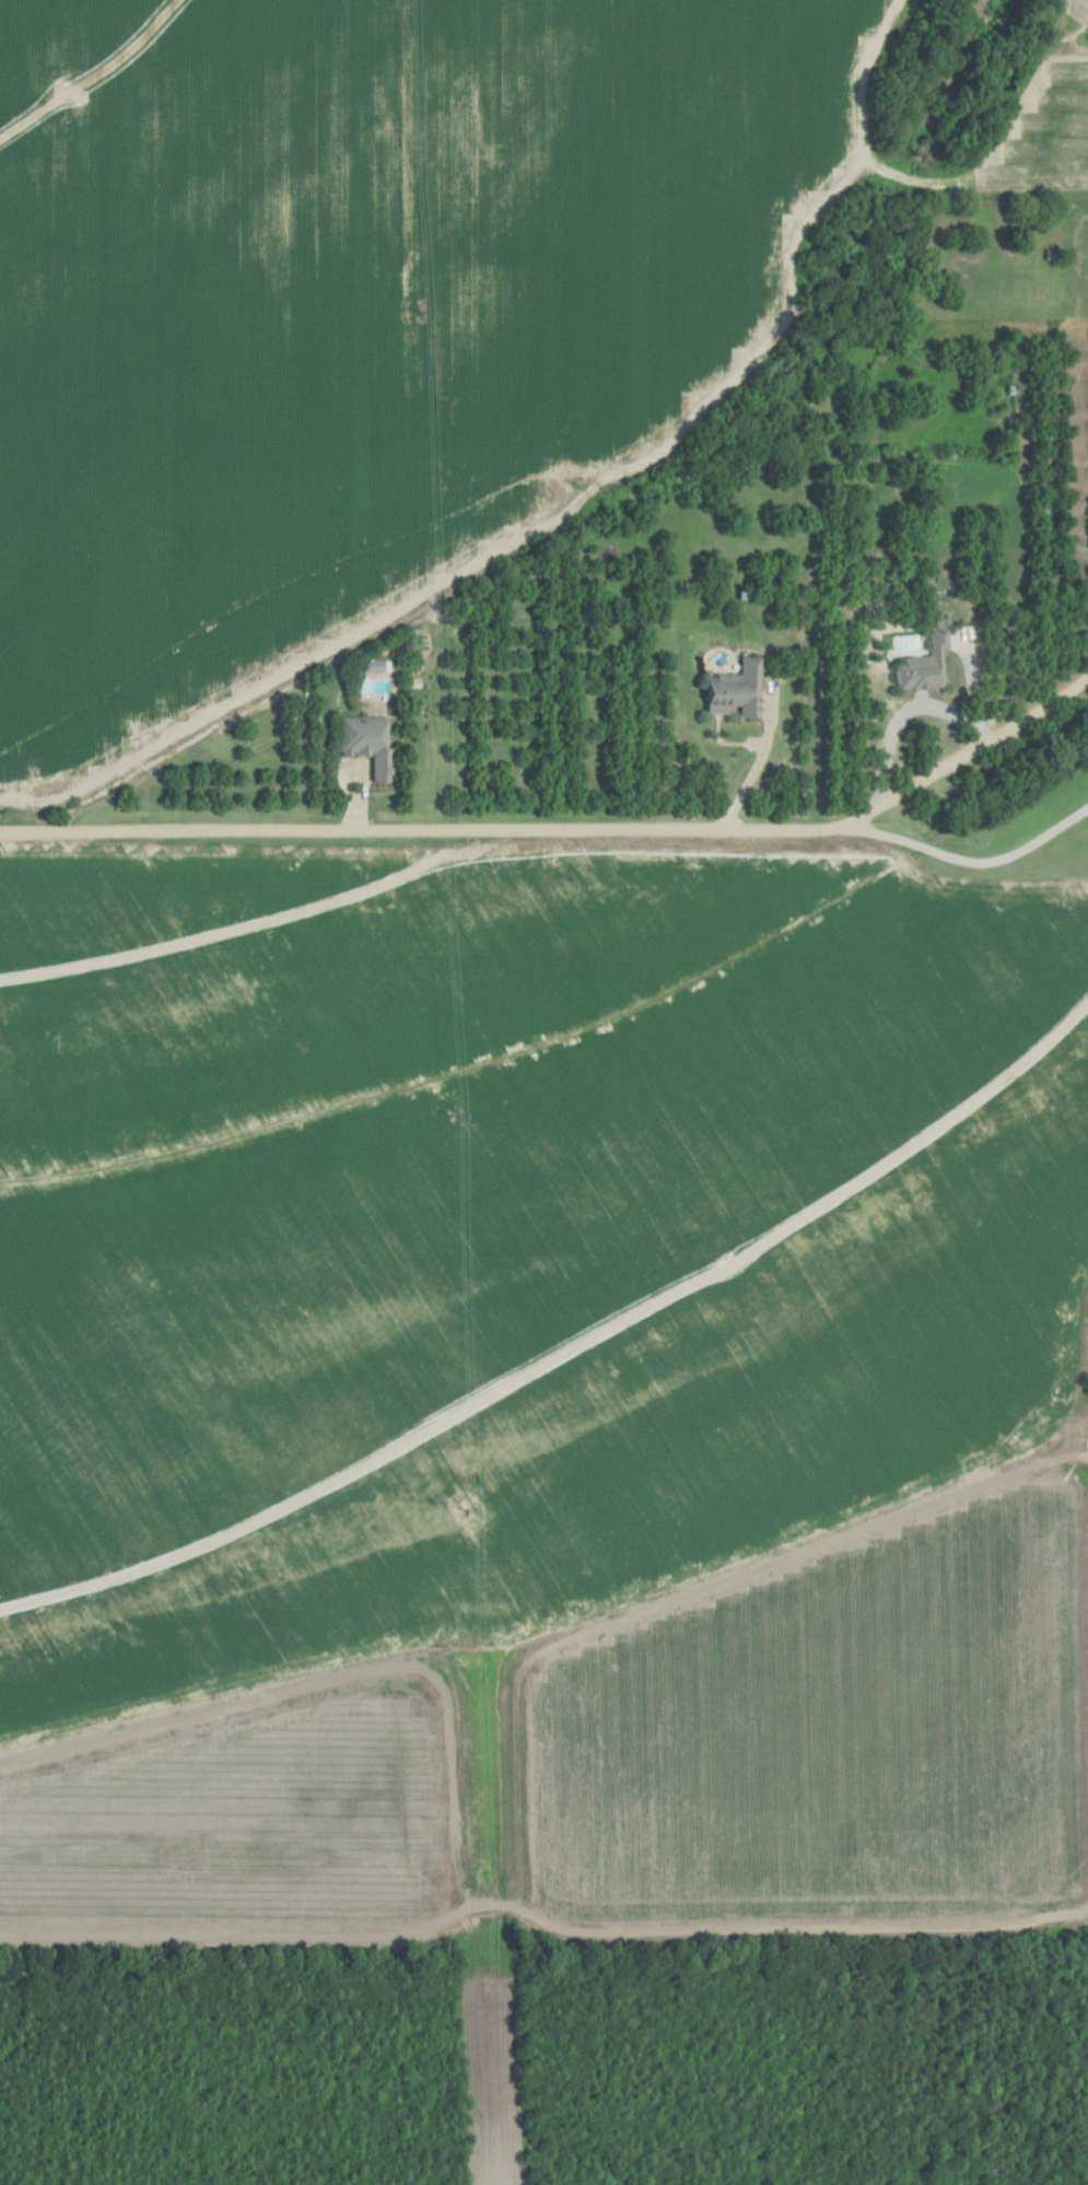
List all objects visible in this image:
building: (736, 689)
building: (368, 743)
road: (569, 829)
road: (972, 864)
building: (987, 1037)
road: (573, 1364)
road: (543, 1935)

